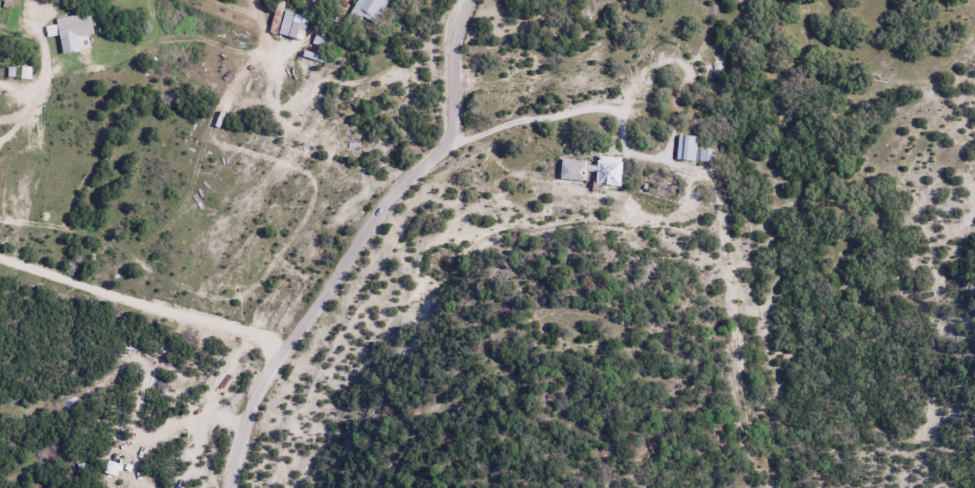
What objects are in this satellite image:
building: (4, 2)
building: (367, 10)
building: (292, 26)
building: (71, 31)
building: (685, 147)
building: (706, 155)
building: (591, 169)
road: (357, 243)

